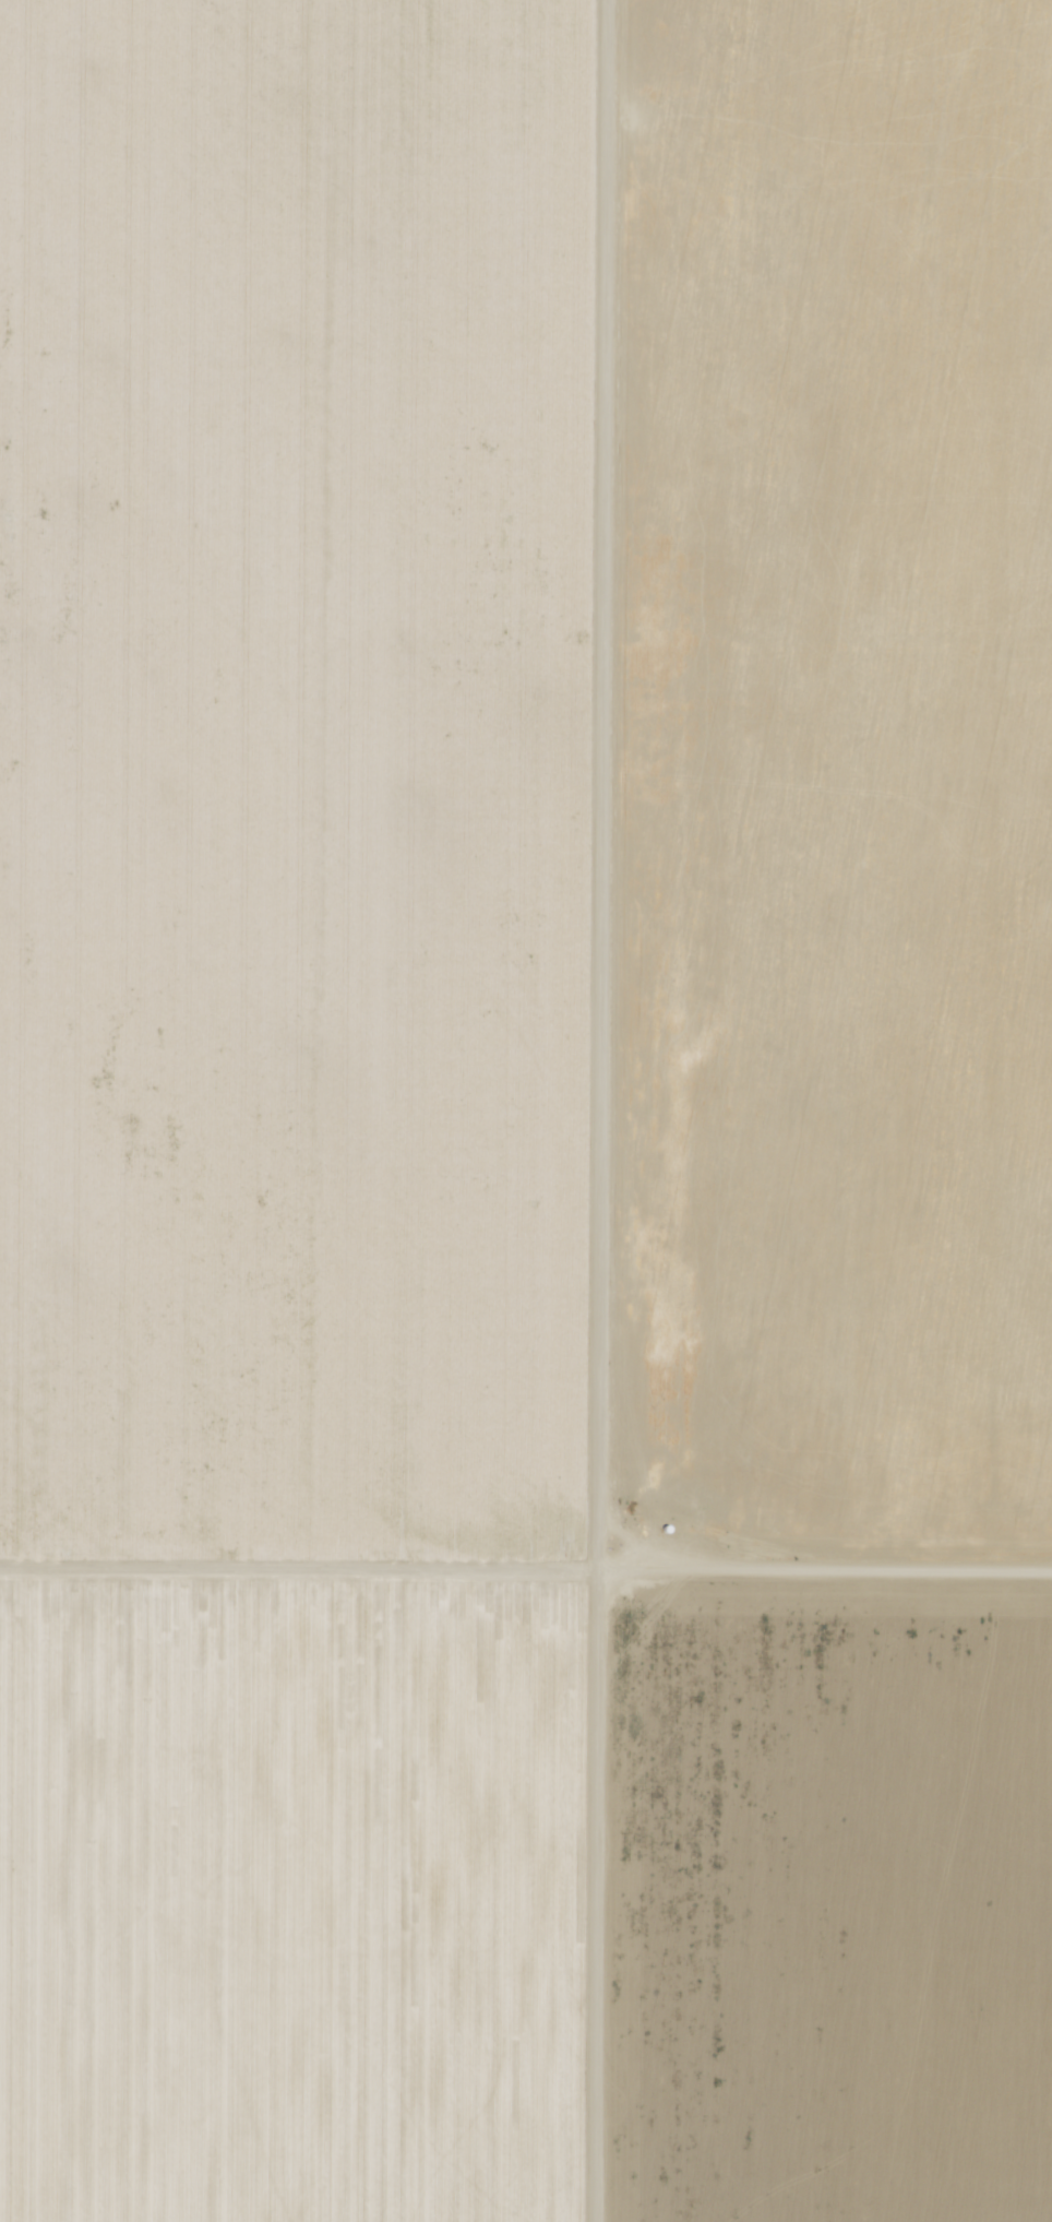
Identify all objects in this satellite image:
road: (625, 784)
road: (526, 1568)
road: (615, 1896)

